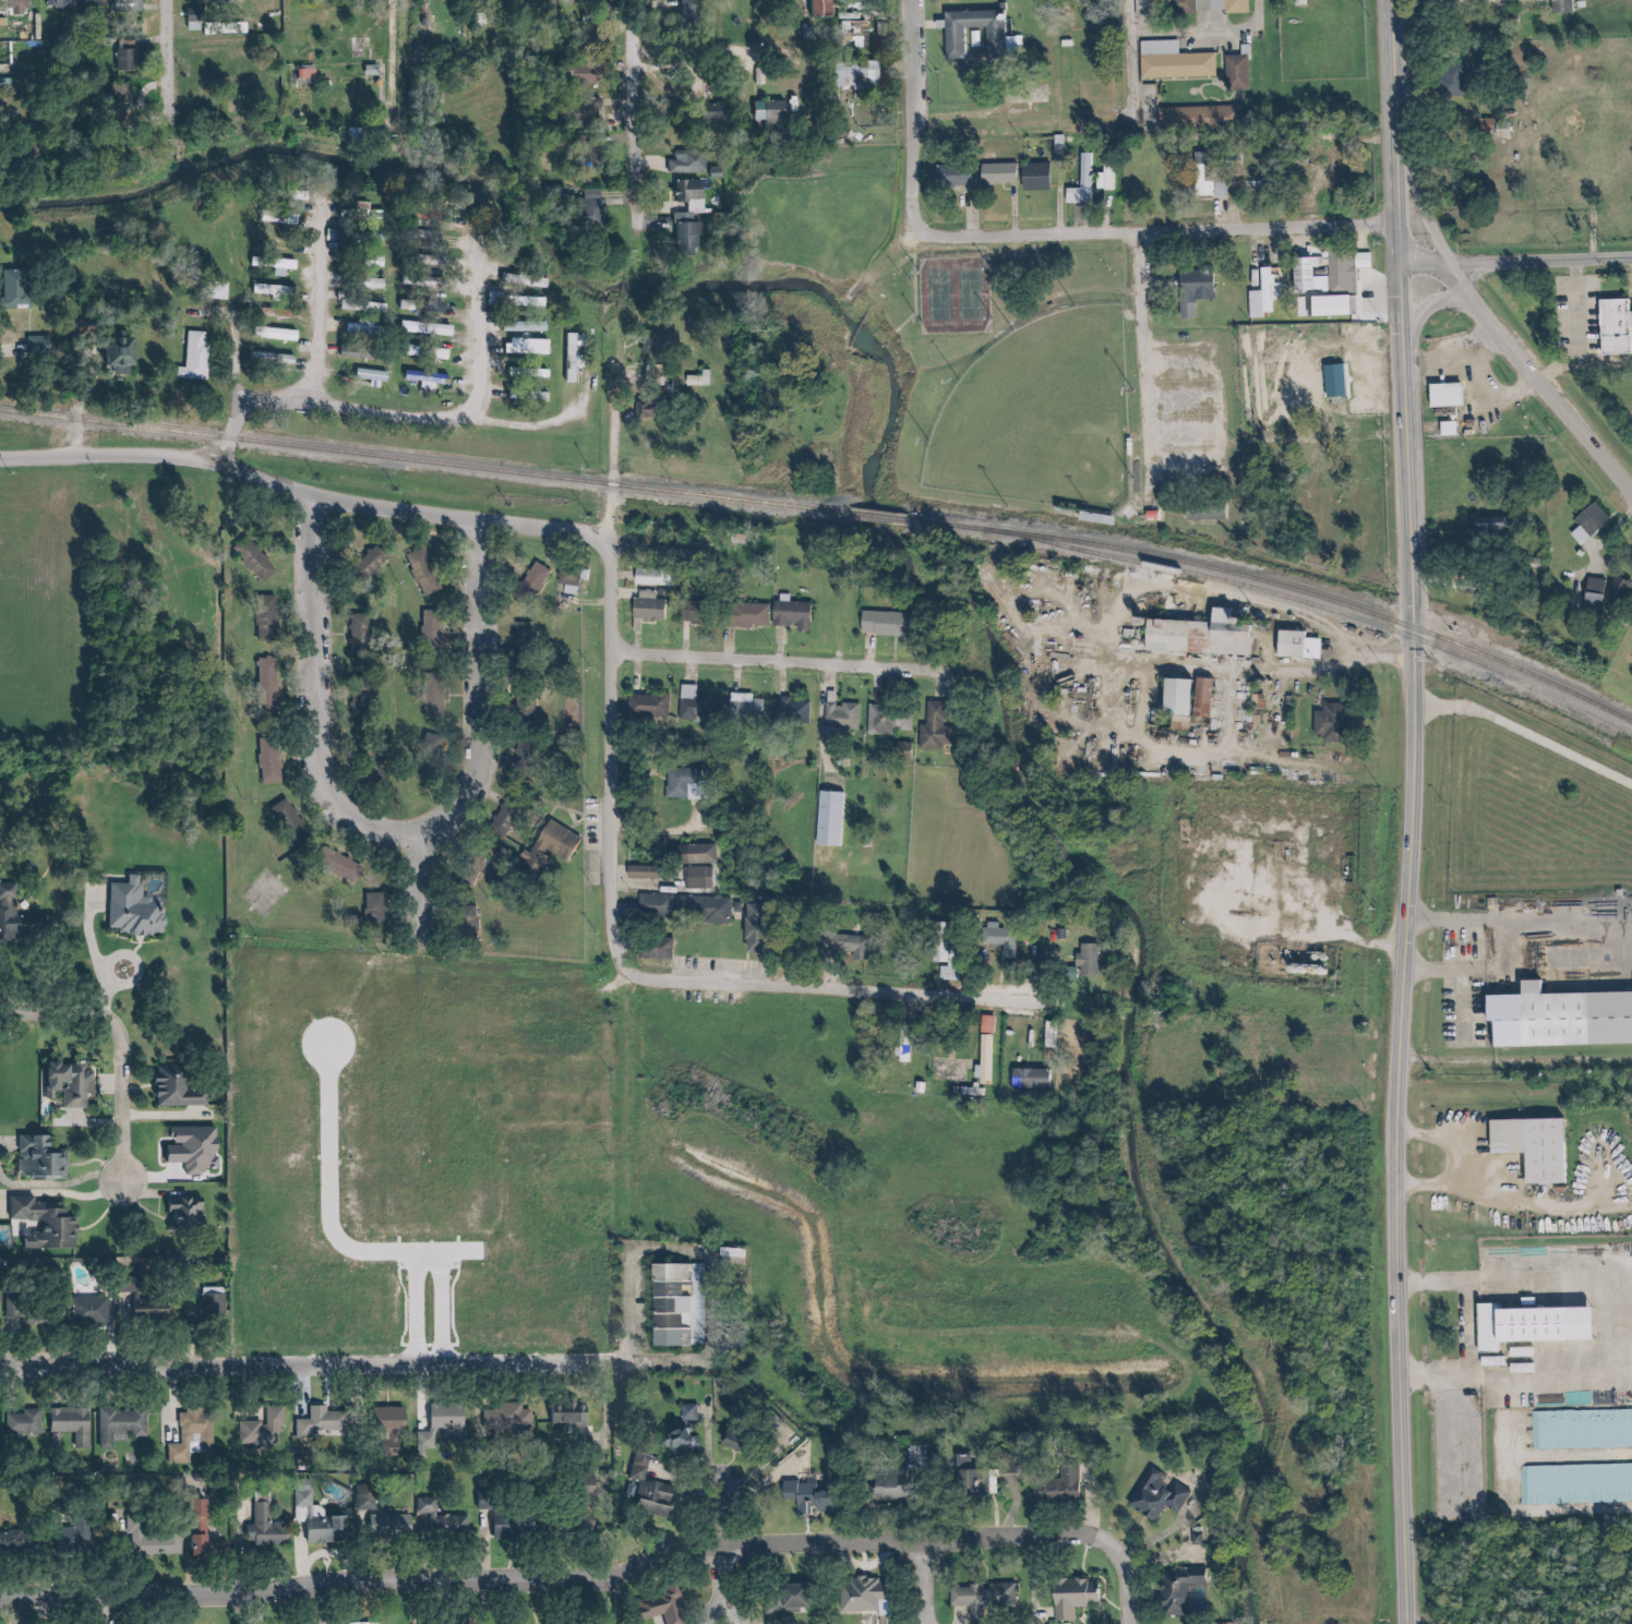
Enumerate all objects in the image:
building: (597, 1)
road: (648, 2)
building: (1294, 2)
building: (59, 3)
building: (89, 3)
building: (127, 4)
building: (1556, 5)
building: (1203, 7)
building: (15, 8)
building: (1148, 8)
building: (814, 9)
building: (682, 11)
road: (1249, 14)
road: (922, 24)
building: (991, 31)
road: (1184, 32)
building: (844, 35)
building: (1156, 47)
road: (171, 51)
road: (389, 51)
road: (717, 52)
building: (122, 60)
road: (1121, 64)
building: (1173, 65)
road: (1385, 68)
building: (1229, 72)
building: (850, 73)
road: (1213, 73)
building: (576, 74)
building: (1454, 82)
road: (1208, 88)
road: (1189, 93)
building: (1034, 95)
building: (119, 96)
road: (1225, 101)
building: (1023, 107)
building: (578, 111)
building: (707, 112)
road: (904, 112)
road: (627, 115)
building: (769, 116)
building: (1192, 118)
building: (352, 135)
building: (1053, 156)
building: (21, 158)
building: (681, 160)
road: (645, 164)
building: (994, 171)
building: (1102, 173)
building: (1031, 175)
building: (947, 176)
building: (1200, 176)
building: (1076, 182)
building: (683, 192)
road: (1052, 200)
road: (1412, 203)
road: (656, 206)
building: (588, 207)
road: (1006, 209)
road: (962, 212)
road: (1095, 212)
road: (1217, 214)
building: (675, 217)
road: (1078, 220)
road: (647, 221)
road: (1147, 233)
building: (677, 236)
road: (884, 253)
building: (422, 262)
road: (1538, 263)
building: (276, 264)
road: (907, 274)
building: (1305, 277)
building: (520, 281)
building: (370, 284)
building: (1340, 286)
building: (1188, 289)
building: (14, 290)
building: (273, 291)
road: (850, 292)
building: (1264, 294)
park: (946, 297)
road: (1630, 299)
road: (312, 301)
building: (529, 304)
road: (1429, 304)
building: (421, 306)
road: (1569, 311)
parking lot: (1571, 320)
road: (469, 327)
building: (1610, 327)
building: (276, 336)
road: (883, 336)
building: (655, 340)
road: (226, 341)
building: (529, 349)
building: (424, 353)
building: (116, 356)
building: (193, 356)
building: (568, 358)
road: (1600, 359)
building: (271, 360)
road: (1169, 362)
road: (1136, 365)
road: (1450, 368)
road: (1520, 368)
road: (1550, 370)
building: (527, 372)
road: (1207, 372)
building: (648, 376)
building: (370, 377)
building: (432, 380)
building: (694, 380)
park: (981, 389)
building: (1439, 394)
building: (527, 396)
road: (1174, 397)
road: (320, 398)
road: (1485, 402)
building: (640, 408)
park: (1039, 416)
road: (528, 424)
building: (1475, 424)
road: (1444, 426)
road: (1175, 434)
road: (755, 470)
road: (1175, 471)
road: (299, 491)
building: (1199, 508)
railway: (829, 510)
building: (1144, 514)
building: (1095, 518)
building: (1585, 518)
building: (1489, 525)
building: (1573, 534)
building: (254, 563)
building: (370, 564)
building: (421, 573)
building: (652, 578)
building: (571, 582)
building: (531, 585)
road: (1217, 596)
building: (1603, 596)
building: (1570, 606)
road: (1060, 608)
building: (648, 610)
building: (695, 613)
building: (747, 615)
building: (790, 615)
building: (264, 619)
building: (883, 624)
building: (429, 630)
building: (358, 633)
road: (1044, 633)
building: (1193, 636)
building: (524, 640)
building: (1291, 645)
road: (1109, 660)
road: (776, 661)
road: (1082, 672)
road: (611, 674)
road: (476, 685)
building: (265, 687)
road: (321, 695)
building: (1175, 696)
building: (1199, 696)
building: (359, 697)
building: (431, 706)
building: (648, 706)
building: (698, 706)
building: (745, 708)
road: (1221, 709)
building: (524, 712)
building: (791, 712)
building: (841, 717)
building: (889, 719)
building: (1330, 720)
road: (1077, 724)
building: (934, 730)
building: (525, 757)
building: (268, 761)
building: (369, 767)
building: (423, 767)
building: (683, 784)
building: (287, 819)
building: (828, 819)
road: (667, 823)
building: (547, 850)
building: (692, 855)
building: (340, 867)
building: (641, 873)
building: (697, 878)
road: (1400, 879)
road: (425, 891)
building: (683, 909)
building: (373, 915)
building: (19, 918)
building: (466, 926)
building: (754, 930)
road: (1259, 938)
building: (999, 942)
road: (1502, 947)
building: (655, 949)
road: (89, 952)
building: (945, 960)
road: (1624, 960)
building: (1088, 961)
road: (844, 986)
road: (1454, 1008)
building: (1559, 1019)
building: (1048, 1038)
road: (116, 1043)
building: (901, 1045)
building: (985, 1049)
road: (1511, 1057)
building: (1007, 1067)
building: (950, 1071)
building: (73, 1082)
road: (1511, 1084)
building: (181, 1088)
building: (1529, 1146)
building: (44, 1158)
road: (1460, 1162)
road: (1591, 1179)
road: (1557, 1206)
building: (187, 1216)
building: (47, 1224)
road: (1622, 1280)
building: (669, 1304)
building: (149, 1307)
building: (35, 1309)
building: (207, 1310)
building: (92, 1312)
building: (1527, 1324)
road: (1615, 1330)
road: (1460, 1333)
road: (346, 1364)
building: (566, 1412)
building: (689, 1412)
building: (503, 1418)
building: (385, 1420)
building: (25, 1421)
building: (319, 1421)
building: (444, 1422)
building: (122, 1423)
building: (72, 1425)
building: (264, 1429)
building: (775, 1429)
building: (195, 1437)
building: (734, 1439)
building: (681, 1441)
building: (581, 1442)
road: (1448, 1449)
road: (1517, 1480)
building: (575, 1485)
building: (890, 1485)
building: (974, 1489)
building: (1055, 1489)
building: (645, 1493)
building: (1156, 1496)
building: (809, 1499)
building: (314, 1523)
building: (439, 1523)
building: (568, 1526)
building: (267, 1527)
building: (386, 1527)
building: (508, 1528)
building: (208, 1532)
building: (153, 1535)
building: (74, 1539)
building: (21, 1541)
road: (728, 1554)
road: (578, 1574)
road: (929, 1580)
building: (1176, 1590)
building: (982, 1596)
building: (865, 1598)
building: (1071, 1598)
road: (1135, 1598)
building: (787, 1600)
building: (656, 1608)

